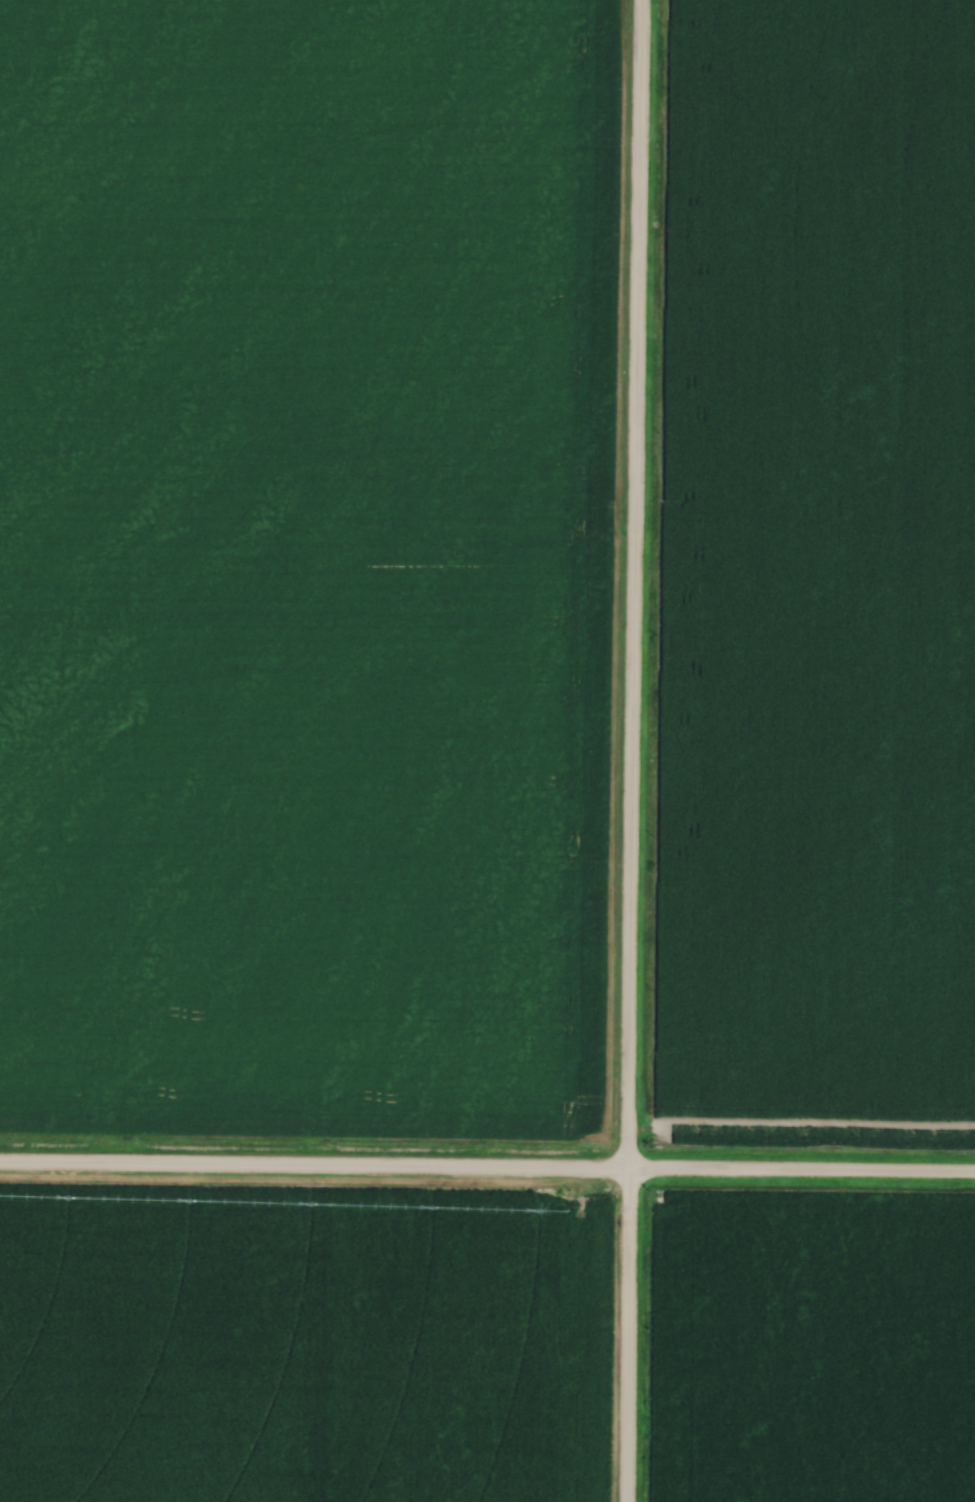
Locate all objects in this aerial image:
road: (626, 750)
road: (487, 1167)

